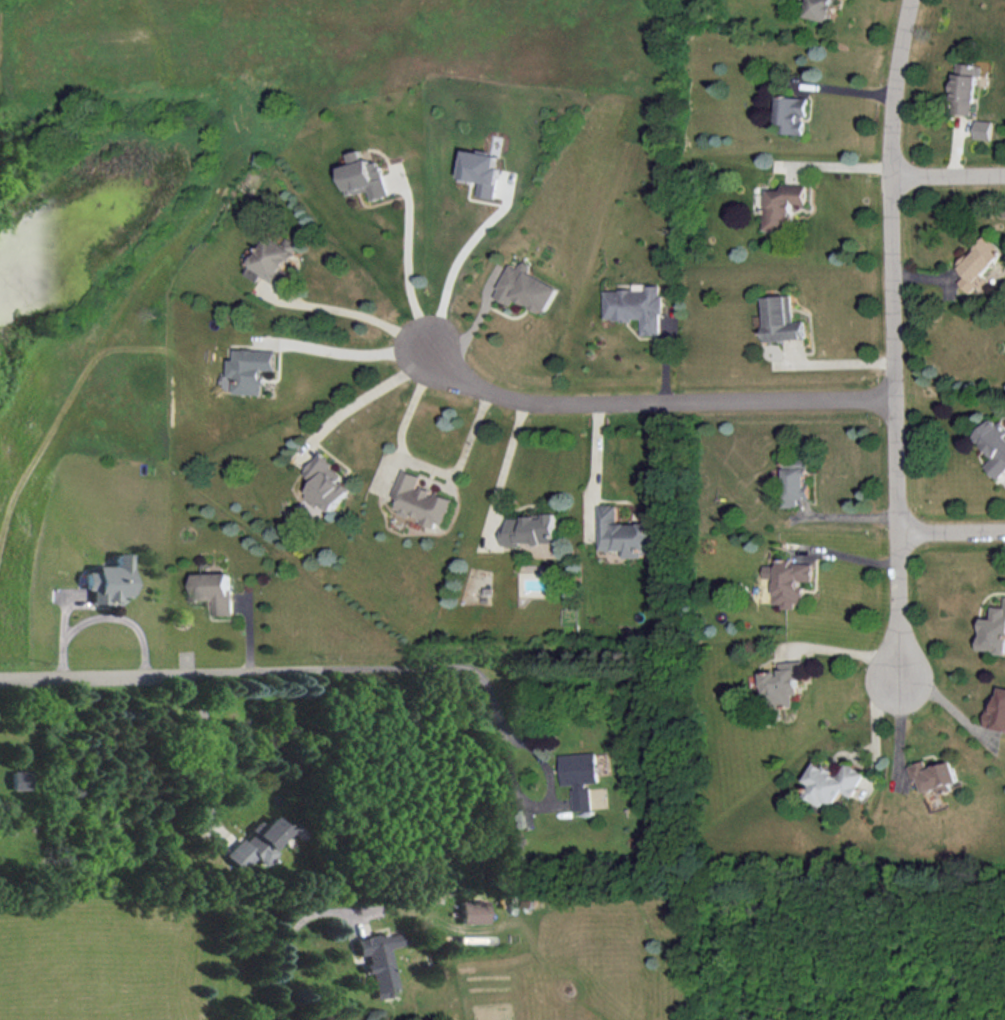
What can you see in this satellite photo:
building: (821, 9)
building: (963, 87)
building: (792, 114)
building: (982, 128)
road: (834, 164)
building: (482, 171)
building: (366, 176)
road: (949, 178)
building: (782, 204)
road: (412, 258)
building: (276, 259)
building: (979, 262)
road: (461, 279)
building: (526, 287)
road: (363, 306)
building: (635, 306)
building: (781, 318)
road: (896, 338)
road: (358, 341)
building: (253, 368)
road: (372, 384)
road: (654, 393)
road: (472, 435)
building: (994, 444)
road: (599, 445)
road: (511, 452)
building: (796, 479)
building: (326, 482)
building: (421, 499)
building: (531, 528)
building: (626, 533)
road: (952, 533)
road: (845, 554)
building: (110, 579)
building: (789, 580)
building: (214, 590)
road: (103, 615)
building: (994, 630)
road: (839, 648)
road: (477, 674)
road: (161, 675)
building: (783, 682)
road: (947, 693)
building: (997, 711)
road: (212, 739)
building: (935, 775)
building: (581, 776)
building: (21, 779)
building: (833, 782)
building: (257, 842)
building: (472, 910)
road: (288, 932)
building: (378, 960)

